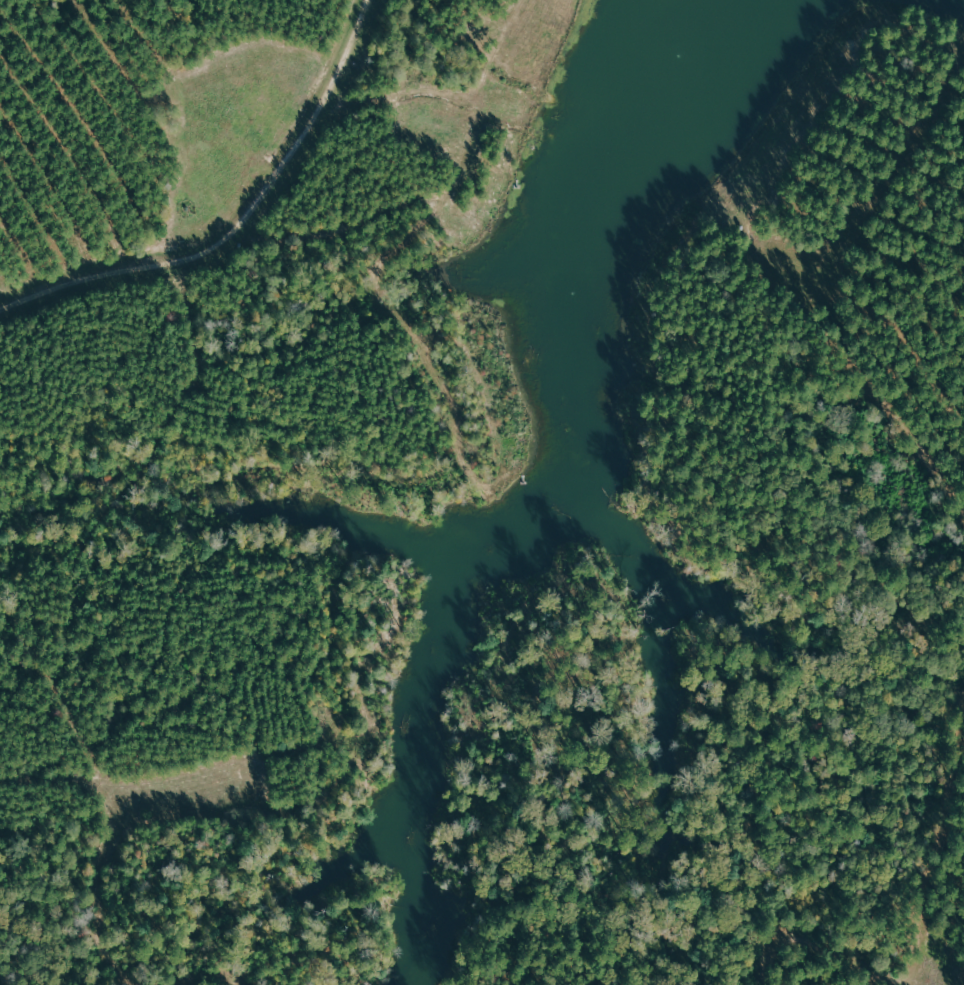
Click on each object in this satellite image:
road: (239, 224)

